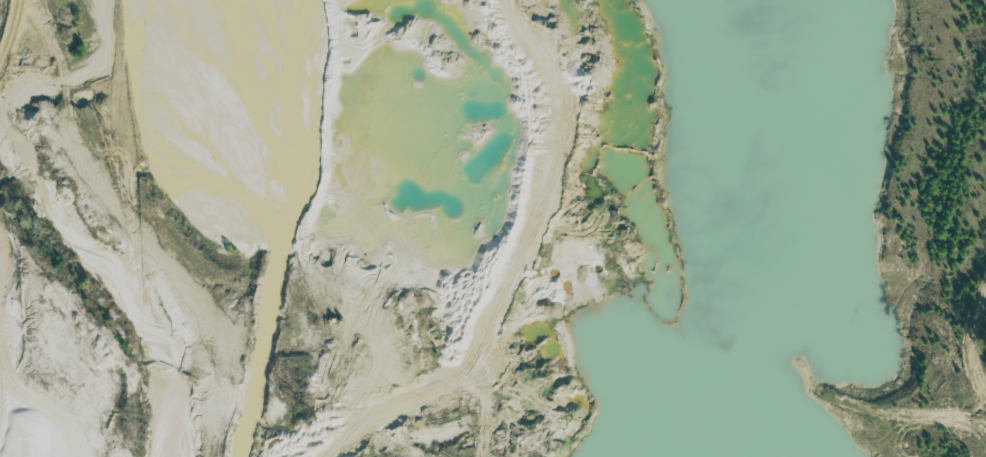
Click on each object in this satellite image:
road: (8, 23)
road: (514, 267)

